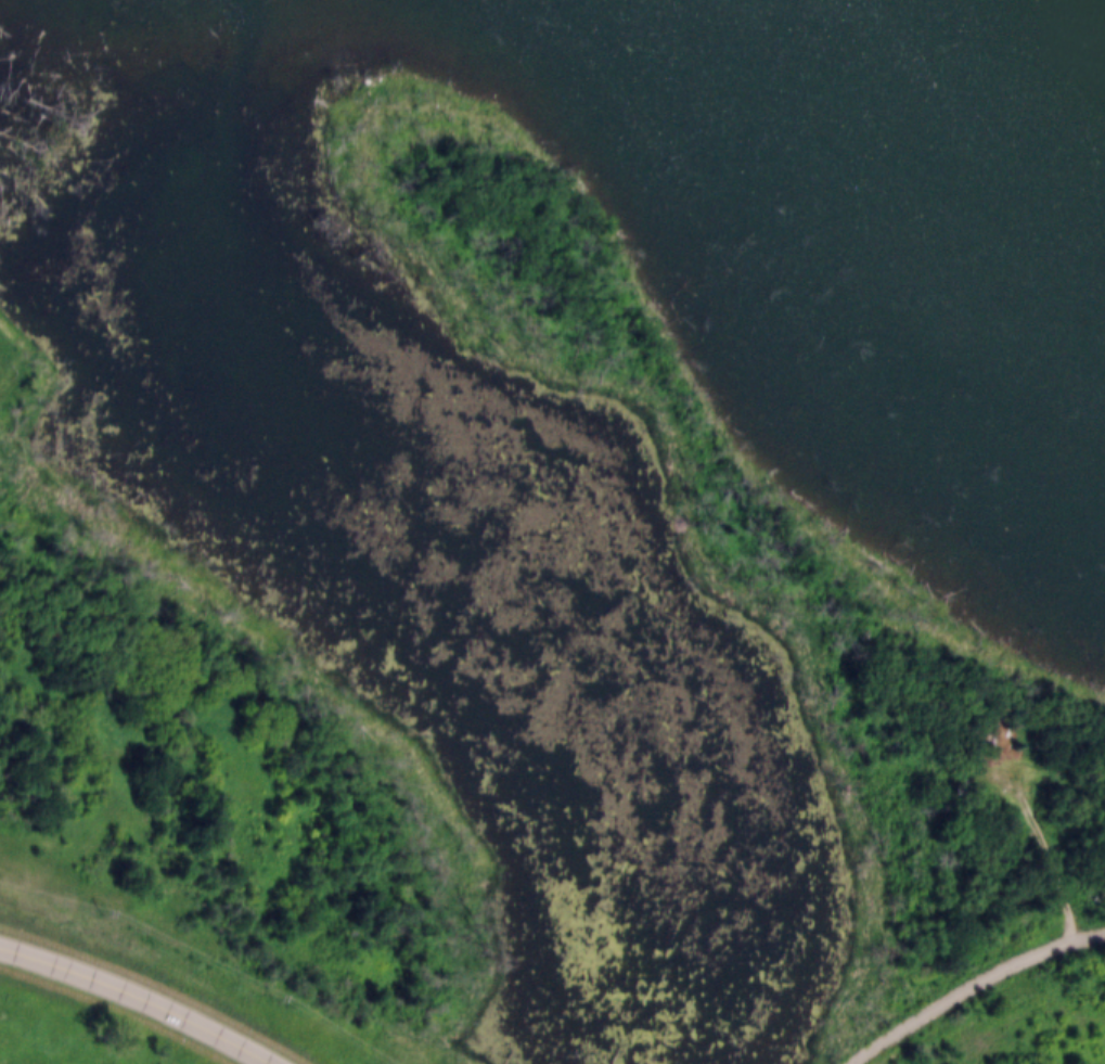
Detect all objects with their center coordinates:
road: (971, 987)
road: (142, 994)

